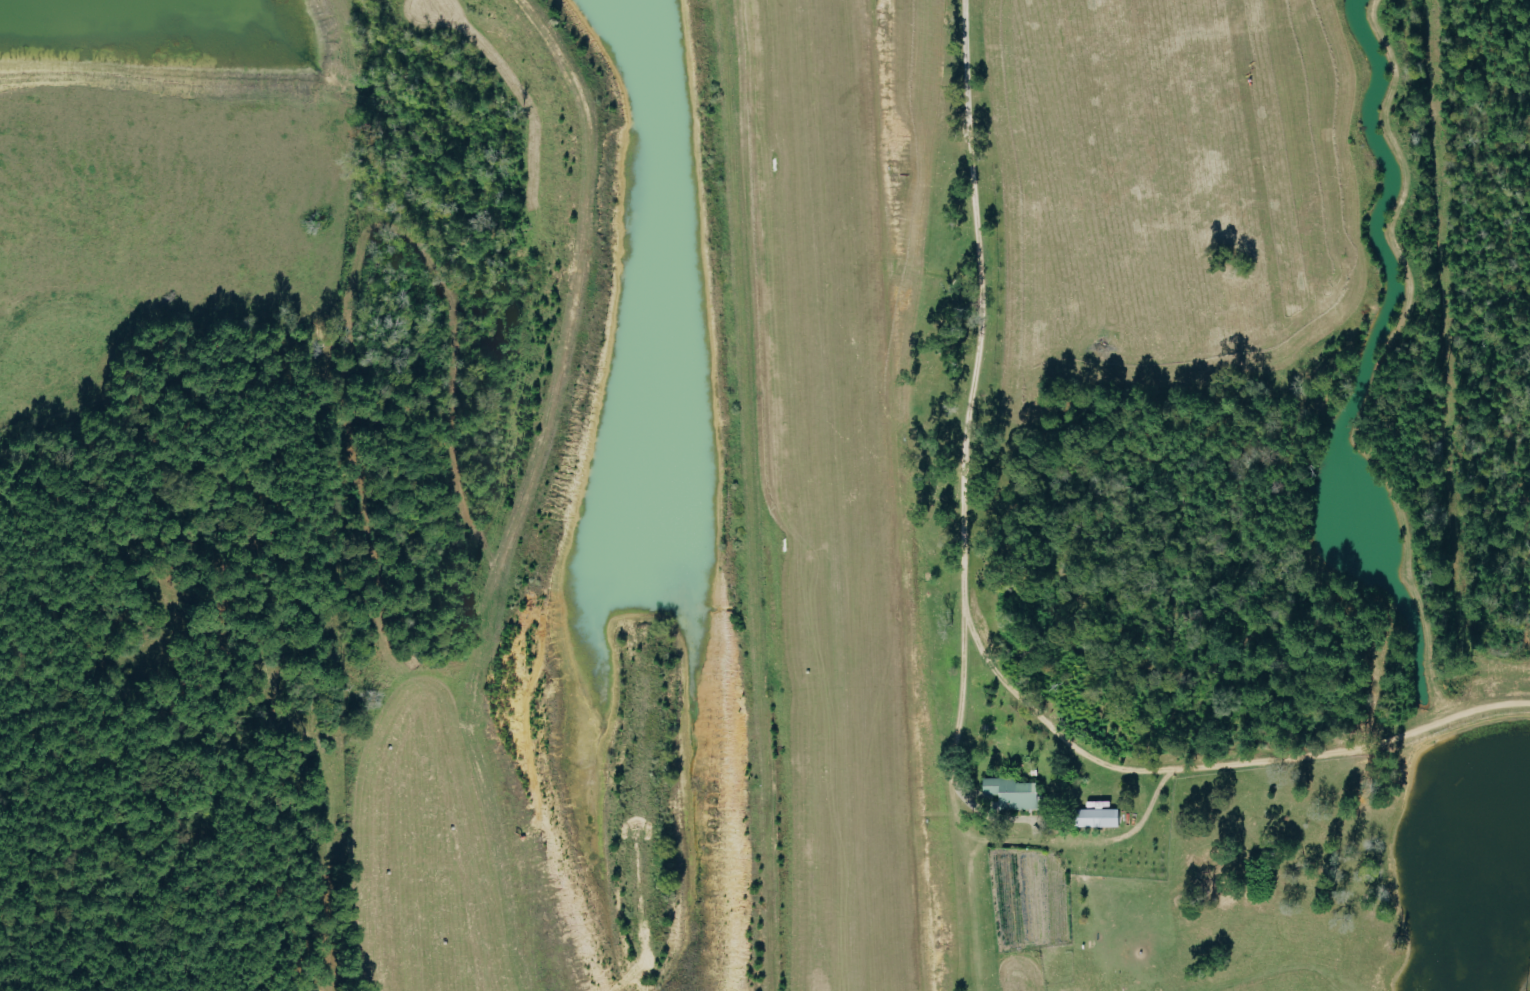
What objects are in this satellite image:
road: (971, 403)
road: (1223, 765)
building: (1013, 792)
building: (1096, 817)

